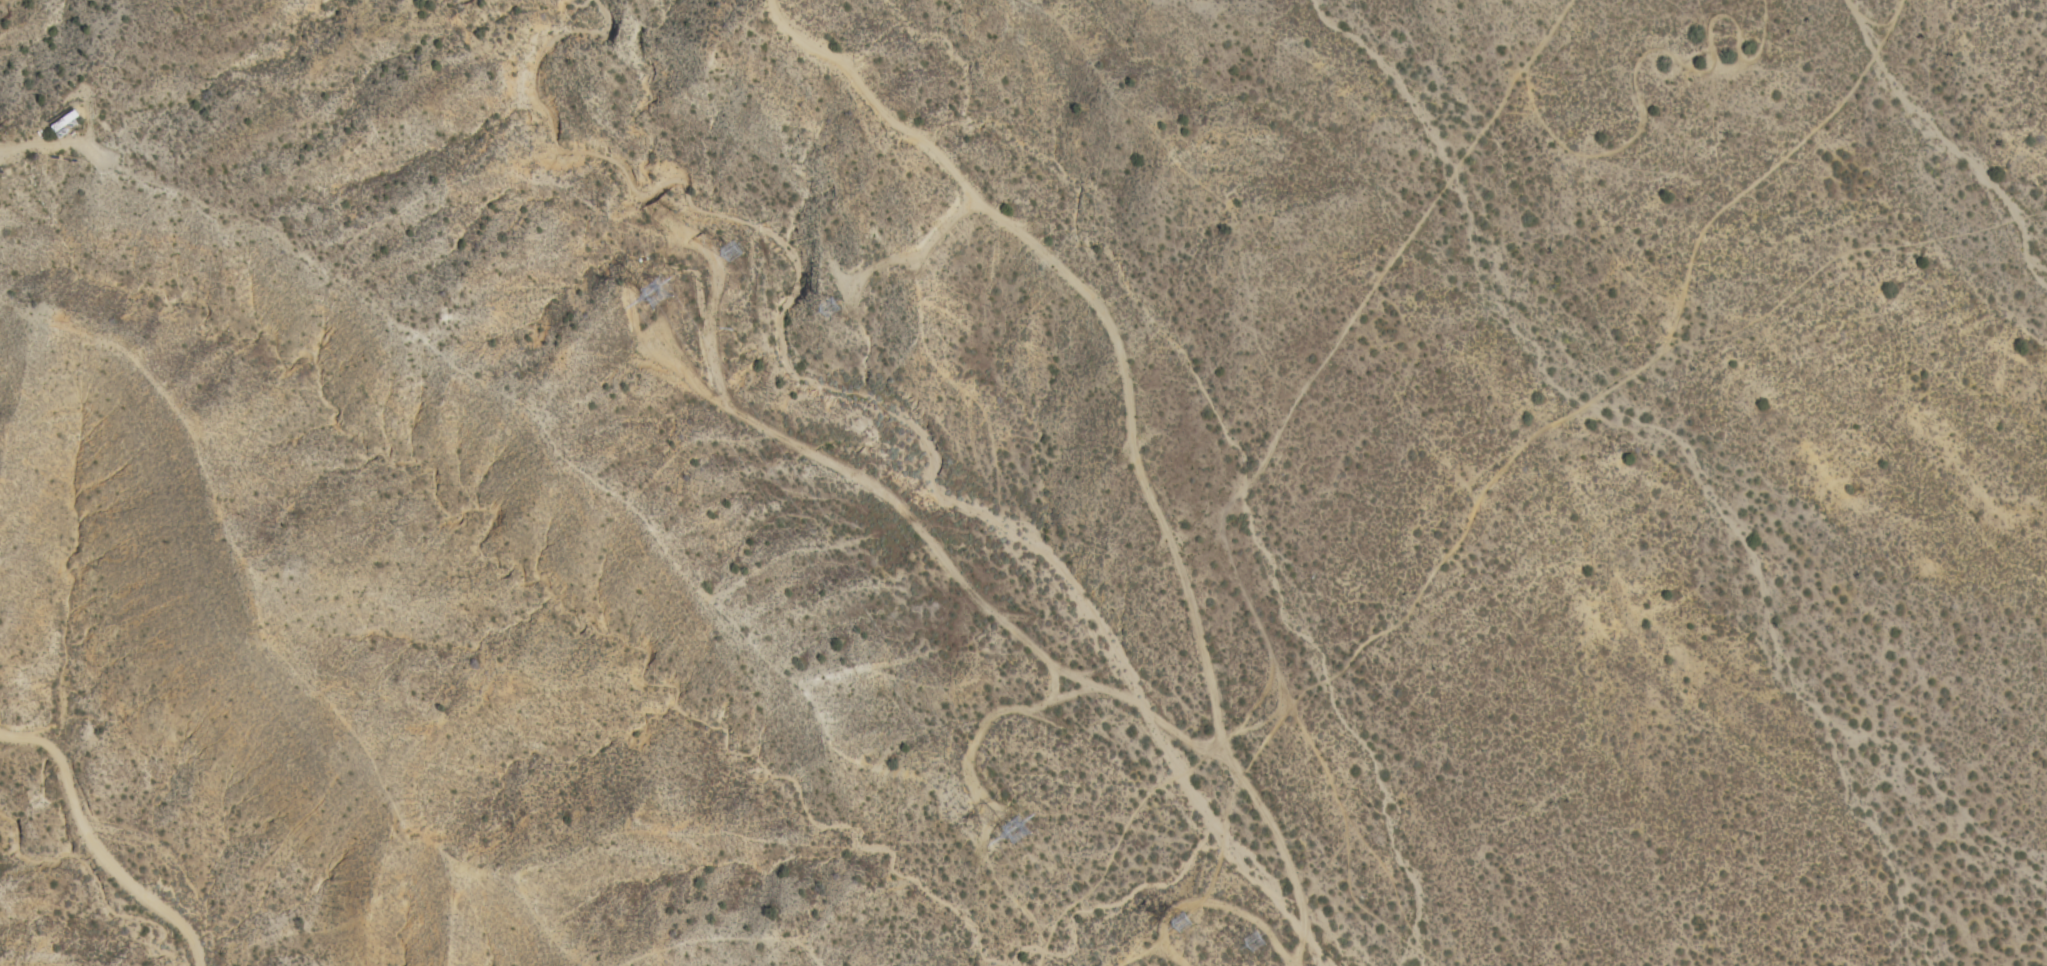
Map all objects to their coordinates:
power tower: (736, 243)
power tower: (666, 282)
power tower: (837, 304)
power tower: (1020, 820)
road: (93, 853)
power tower: (1187, 923)
power tower: (1257, 948)

